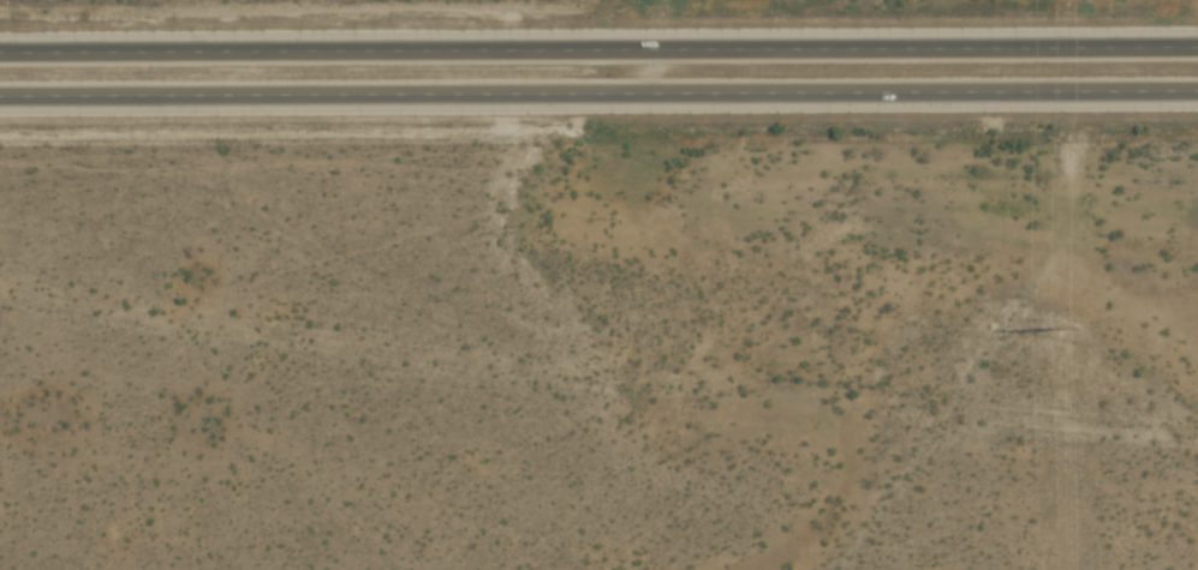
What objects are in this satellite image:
road: (598, 49)
road: (598, 94)
power tower: (1065, 326)

